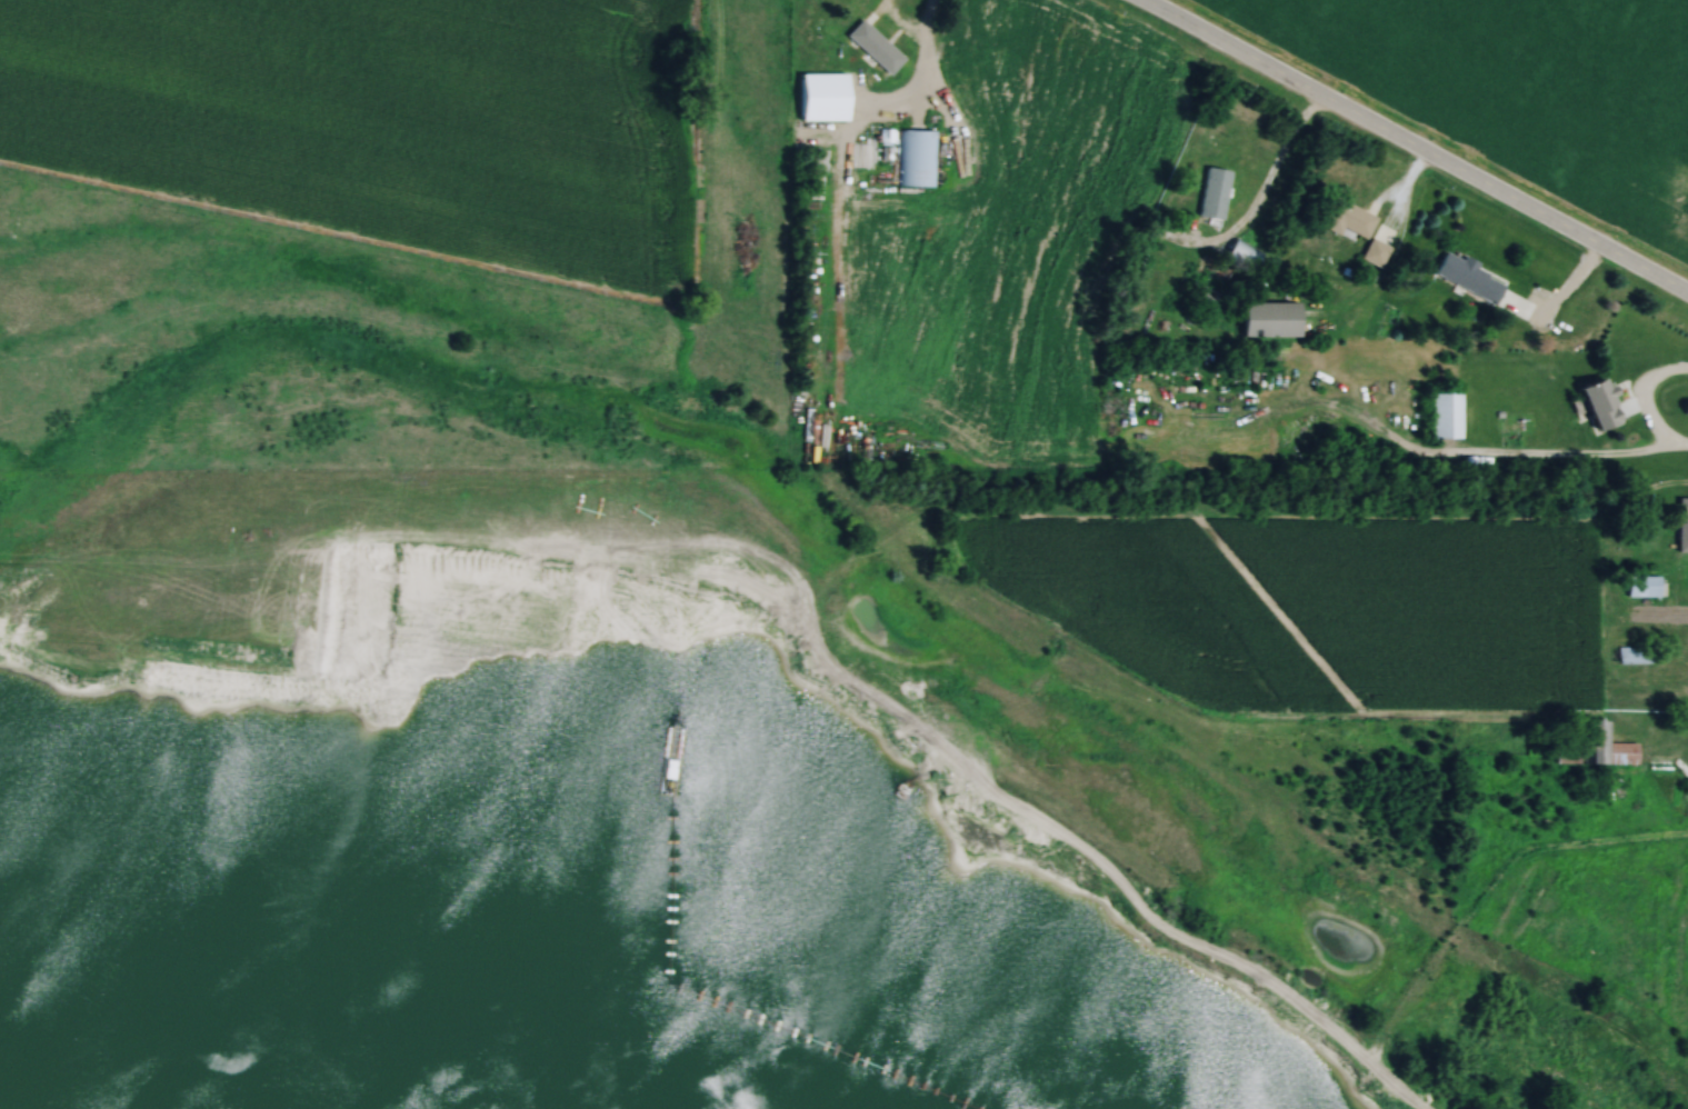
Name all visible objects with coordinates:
building: (876, 48)
building: (827, 98)
road: (1411, 147)
building: (915, 158)
road: (1278, 160)
building: (1215, 193)
building: (1350, 220)
building: (699, 226)
building: (1377, 253)
building: (1243, 257)
building: (1471, 278)
building: (1275, 321)
building: (1607, 406)
road: (1647, 406)
building: (1448, 417)
building: (1685, 526)
building: (1647, 588)
building: (1637, 656)
building: (1600, 749)

